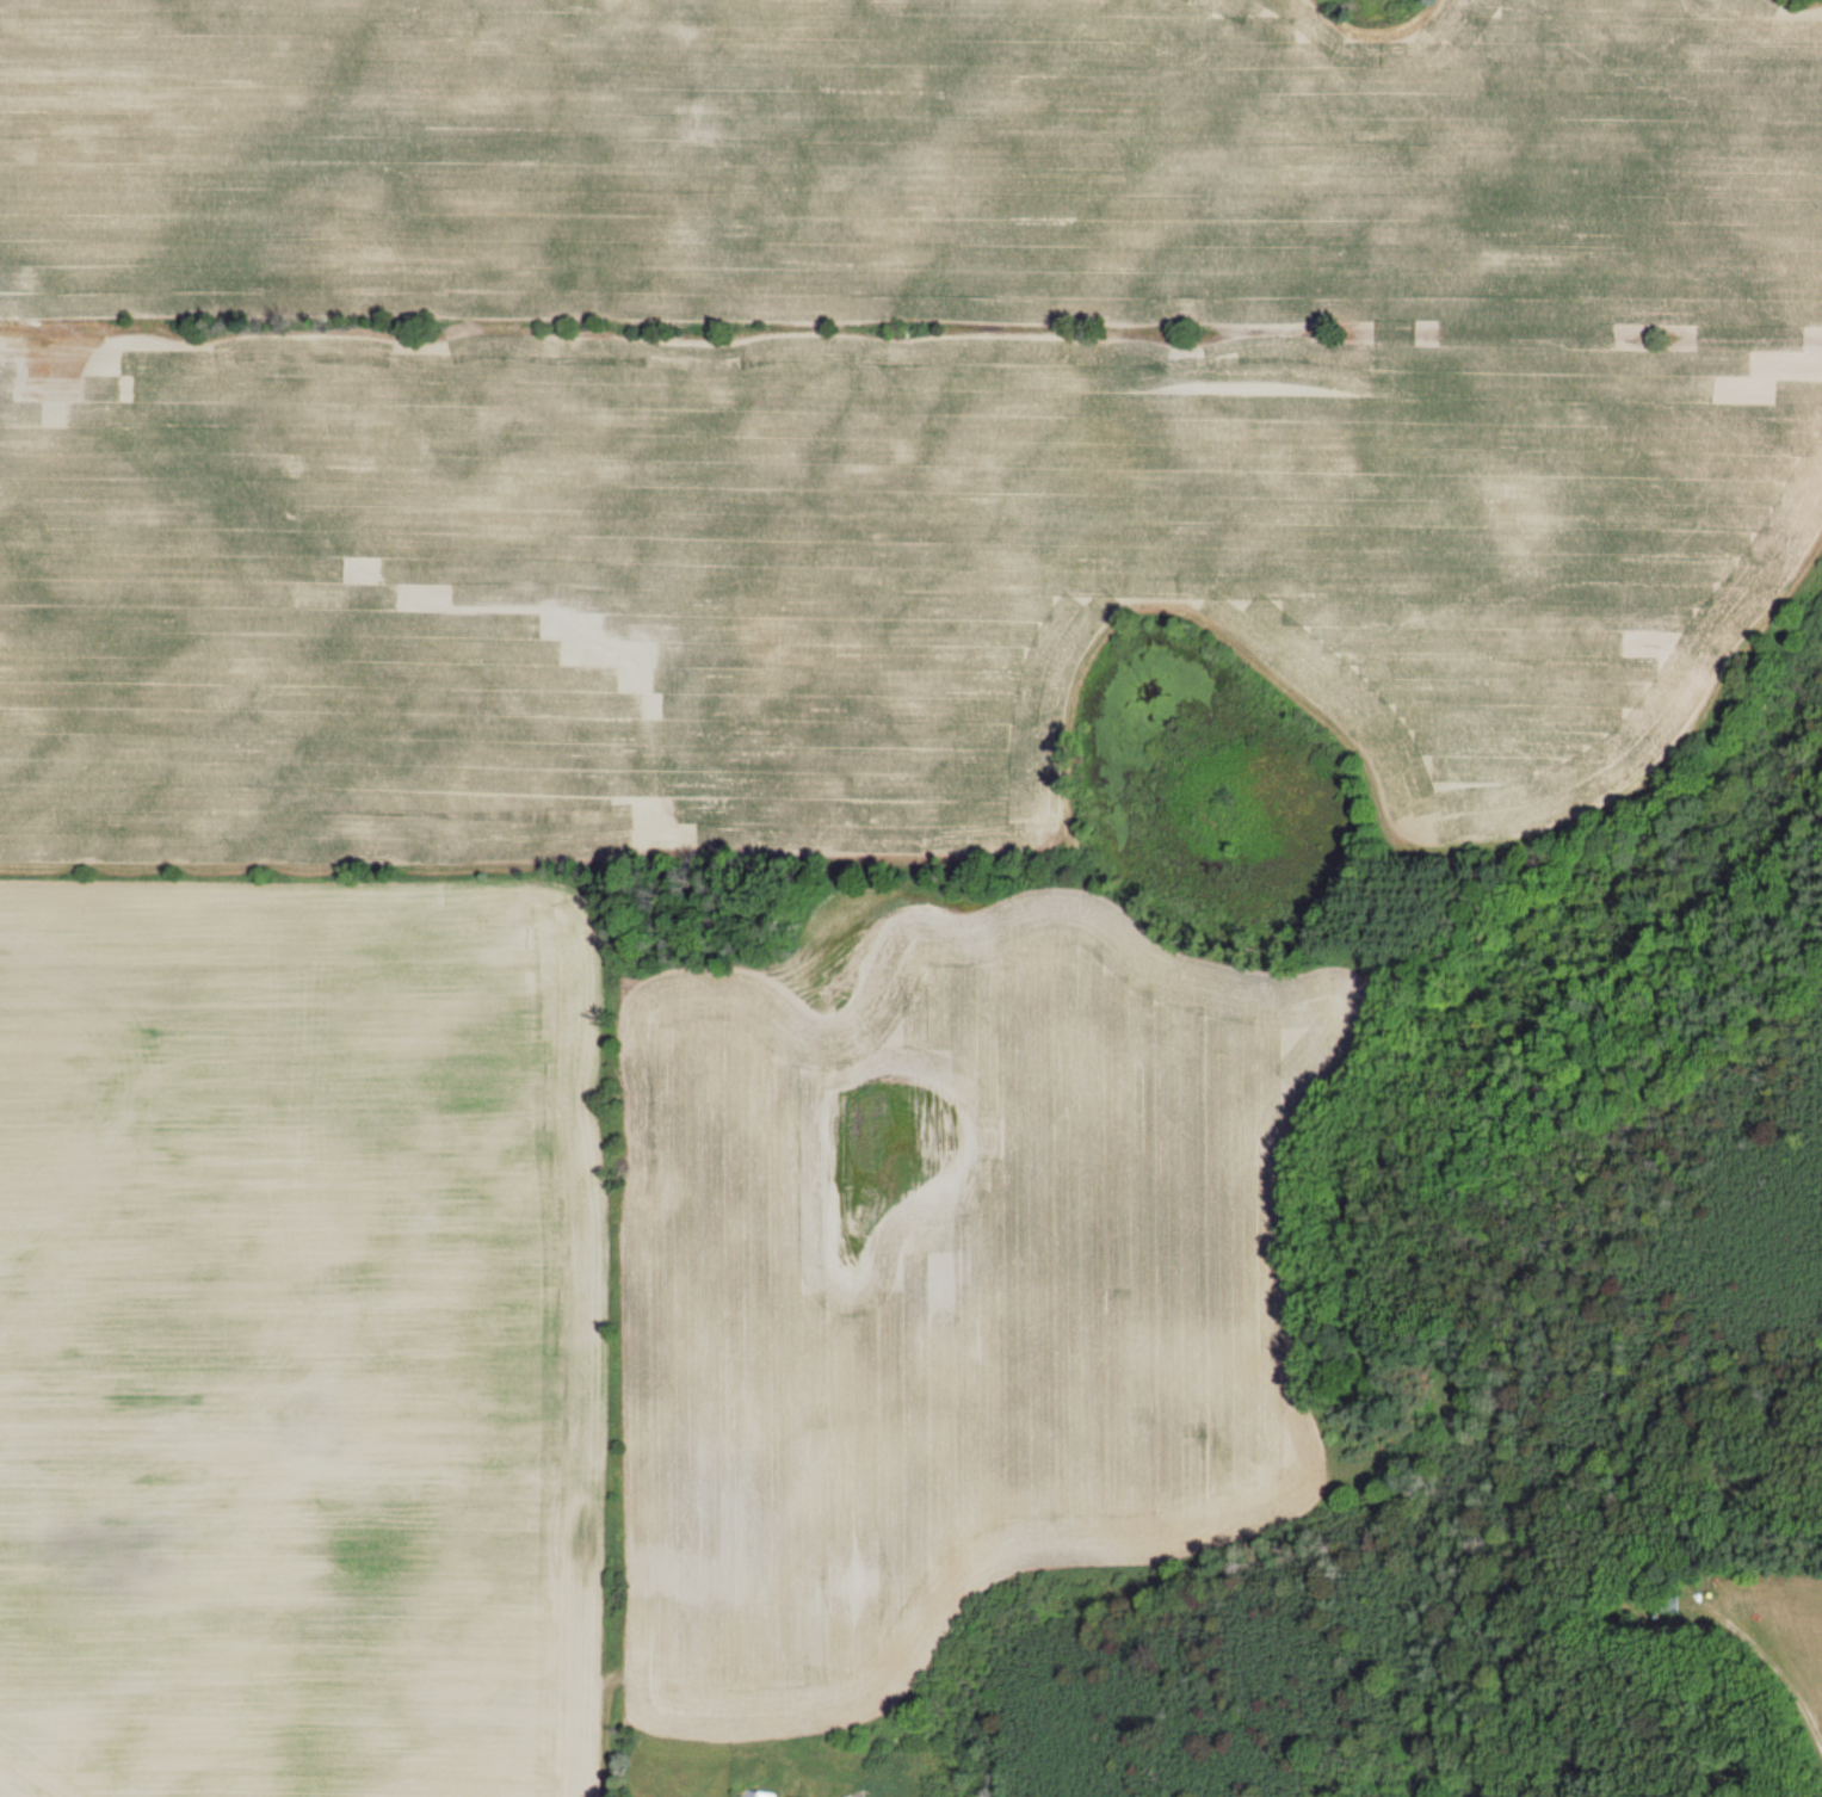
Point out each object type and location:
building: (1672, 1605)
building: (758, 1793)

